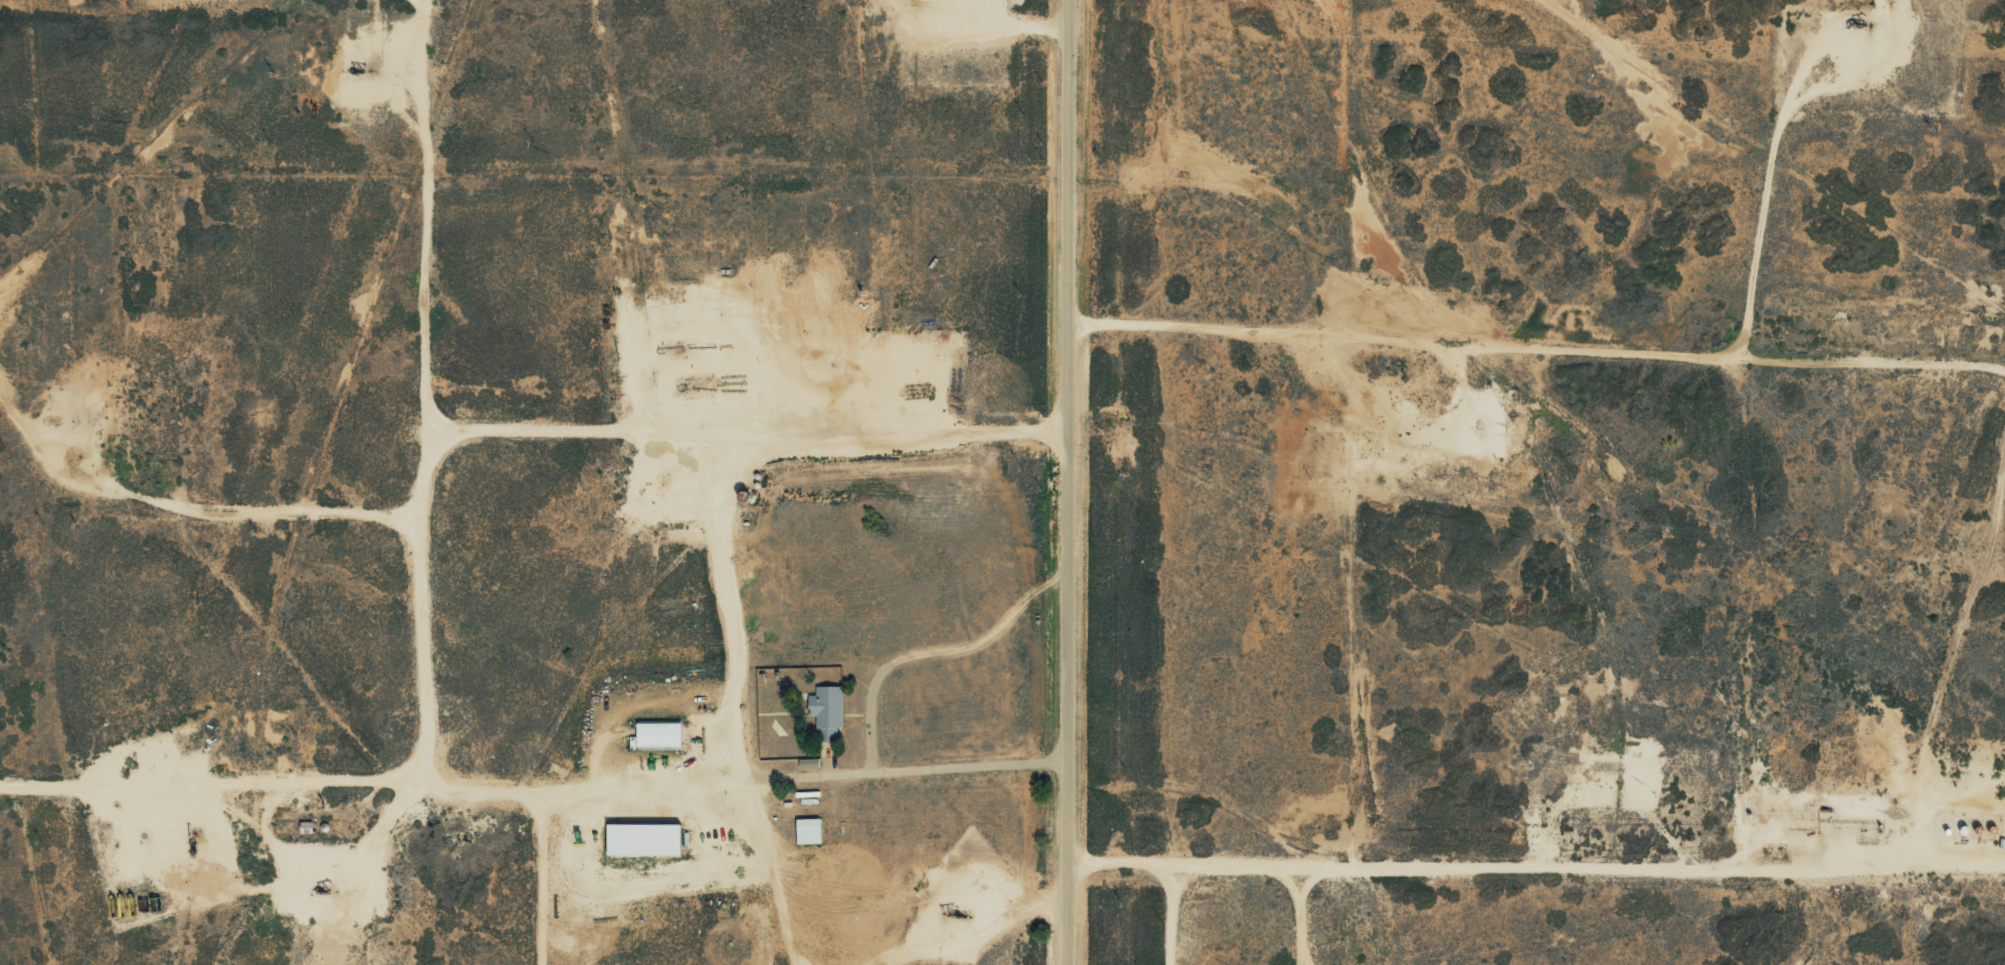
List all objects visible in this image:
petroleum well: (1855, 25)
petroleum well: (358, 70)
road: (103, 211)
road: (1534, 320)
road: (1061, 482)
road: (325, 489)
road: (531, 773)
petroleum well: (190, 830)
building: (648, 839)
road: (1965, 844)
road: (1594, 848)
road: (775, 864)
petroleum well: (316, 883)
petroleum well: (955, 911)

